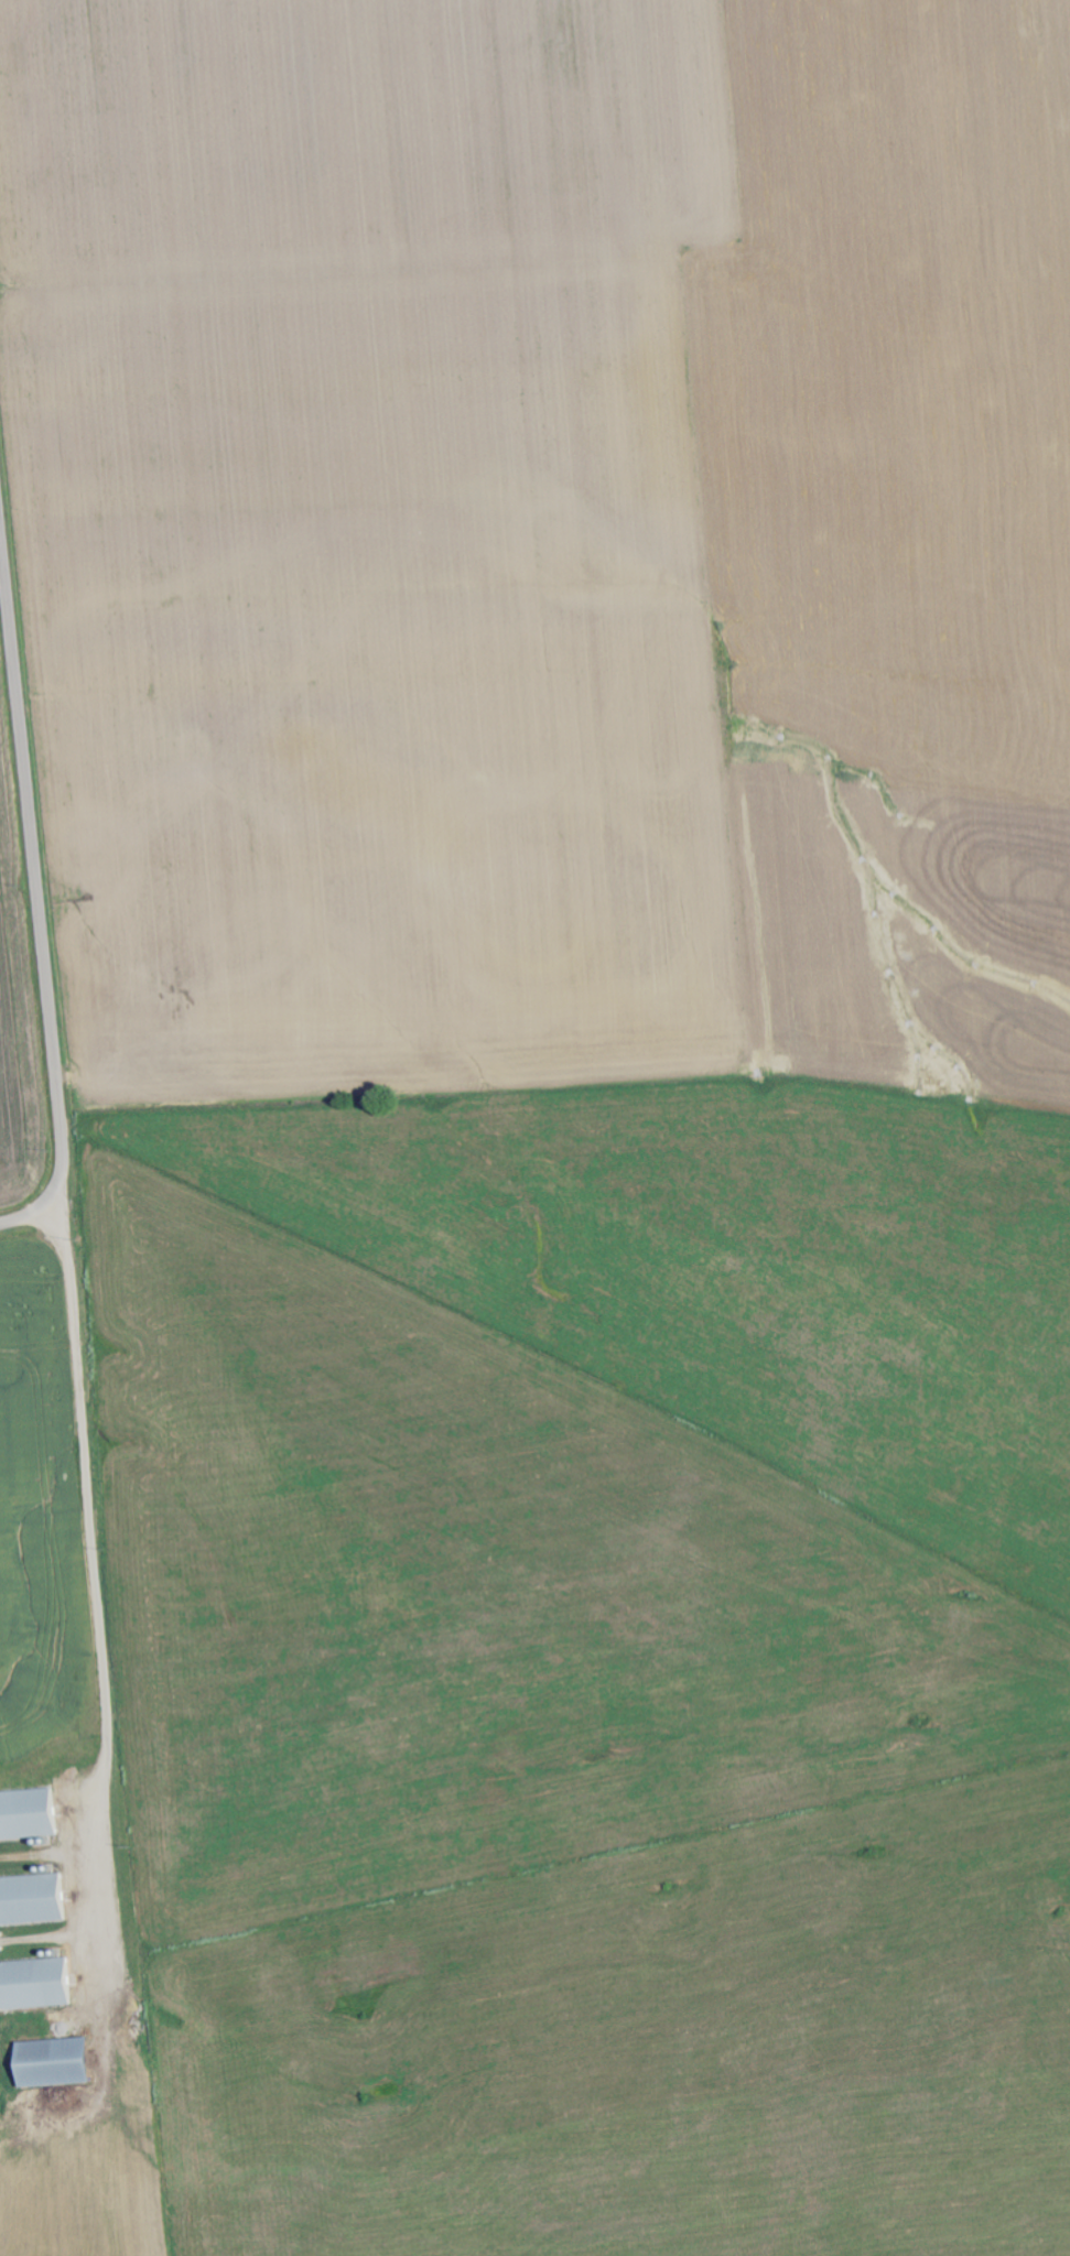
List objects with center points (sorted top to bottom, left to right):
road: (36, 903)
road: (105, 1585)
building: (29, 1815)
building: (31, 1900)
building: (36, 1986)
building: (54, 2063)

